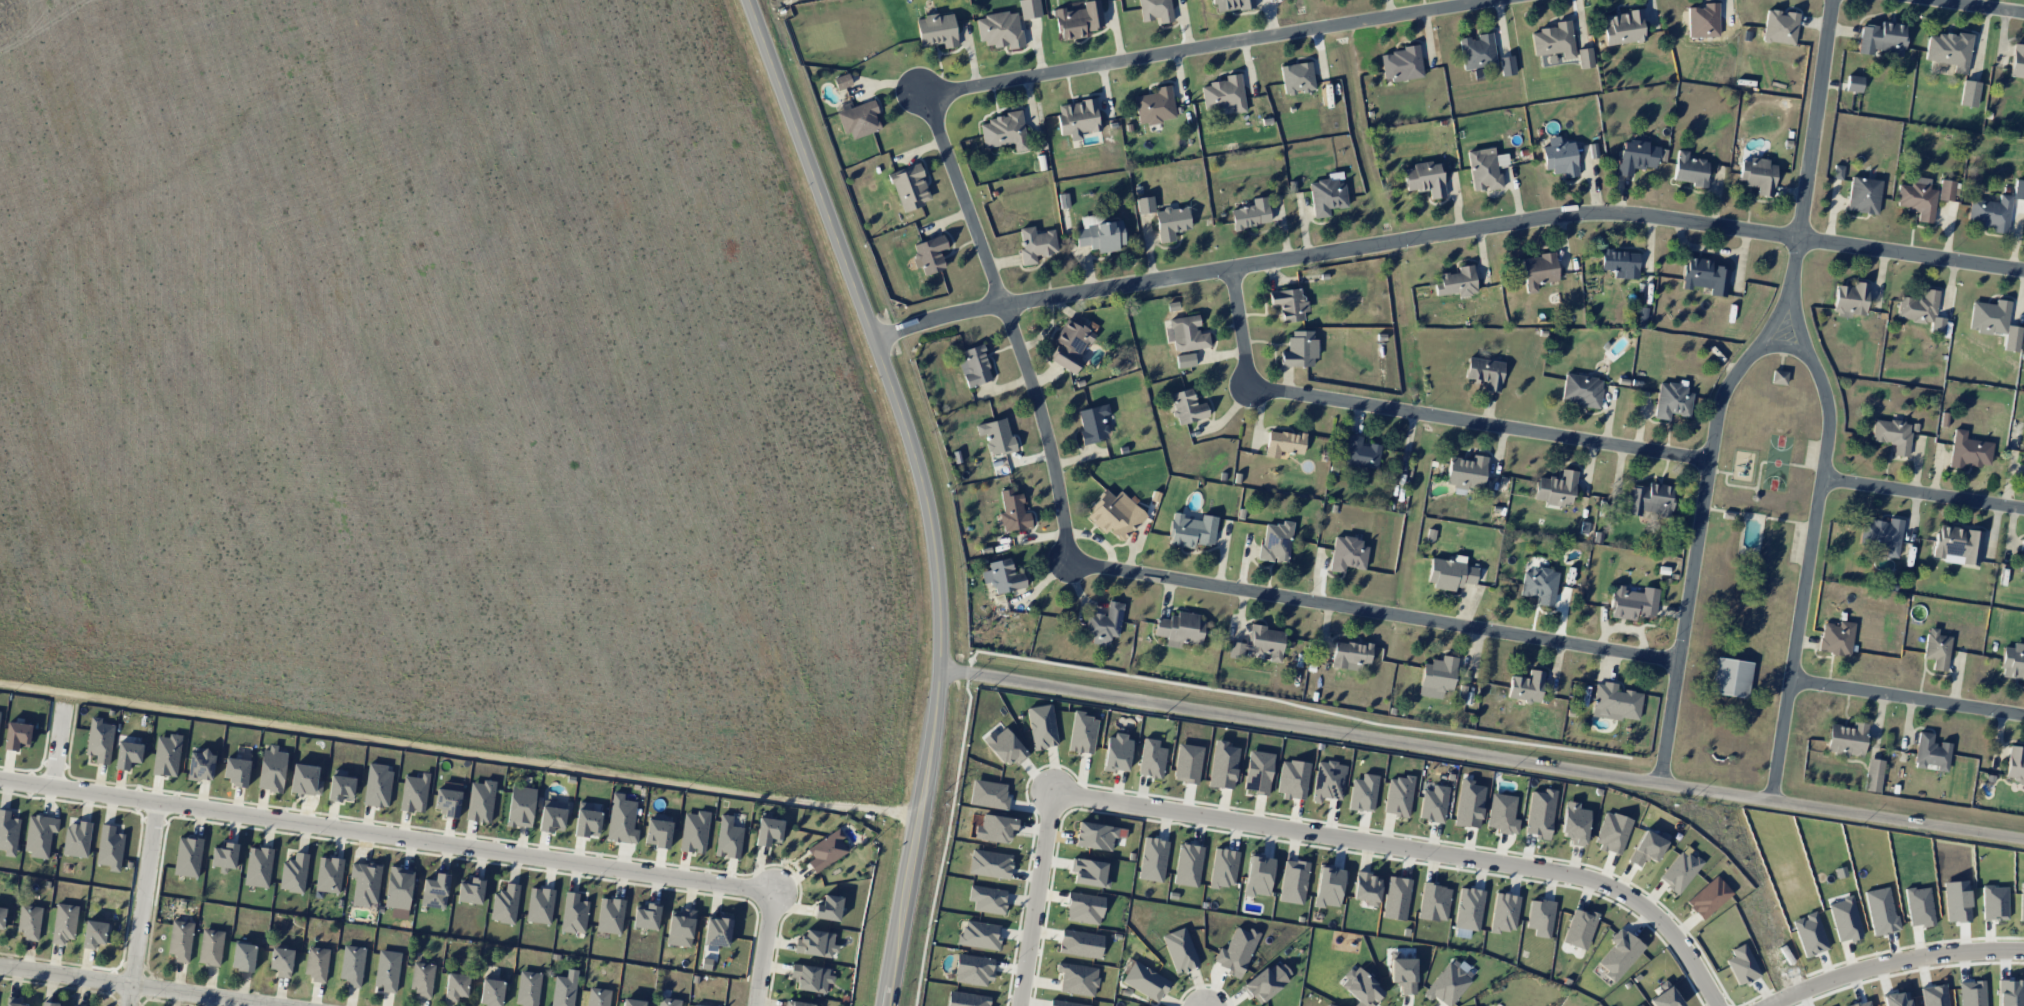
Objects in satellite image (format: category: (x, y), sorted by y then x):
building: (1231, 5)
road: (1977, 7)
building: (1029, 9)
building: (1155, 10)
building: (1078, 20)
building: (1703, 21)
building: (1623, 27)
building: (1779, 27)
building: (936, 30)
building: (999, 30)
building: (1882, 38)
building: (1554, 40)
building: (1949, 50)
building: (1477, 51)
building: (1585, 57)
building: (2017, 62)
road: (1096, 64)
building: (1400, 64)
building: (1506, 65)
building: (1297, 78)
building: (842, 81)
building: (1853, 83)
building: (1968, 93)
building: (1224, 94)
building: (1155, 106)
building: (1078, 117)
building: (859, 119)
building: (1004, 131)
building: (1636, 155)
road: (1810, 155)
building: (1559, 157)
building: (1483, 169)
building: (1690, 169)
building: (1837, 172)
building: (1757, 175)
building: (1424, 178)
building: (909, 187)
building: (2018, 189)
building: (1946, 190)
building: (1863, 195)
building: (1327, 196)
building: (1917, 200)
building: (1063, 201)
building: (1144, 205)
building: (1990, 213)
building: (1251, 214)
building: (1171, 222)
road: (1445, 233)
building: (1101, 236)
building: (1035, 244)
building: (929, 254)
building: (1620, 263)
building: (1538, 270)
building: (1704, 276)
building: (1456, 282)
building: (1850, 299)
building: (1288, 303)
building: (1921, 310)
building: (1994, 322)
building: (1186, 333)
building: (1070, 345)
building: (1299, 349)
building: (1185, 360)
building: (974, 366)
building: (1485, 373)
building: (1779, 377)
building: (1581, 390)
building: (1672, 401)
building: (1187, 407)
road: (1418, 414)
building: (1093, 423)
building: (1892, 435)
building: (996, 436)
building: (1283, 443)
building: (1968, 451)
building: (1360, 453)
building: (1466, 472)
building: (1555, 488)
road: (919, 490)
road: (1925, 495)
building: (1649, 500)
building: (1013, 511)
building: (1115, 514)
building: (1191, 530)
building: (1882, 534)
road: (1699, 535)
building: (1275, 542)
building: (1957, 545)
road: (1813, 553)
building: (1347, 554)
building: (2021, 558)
building: (1450, 574)
building: (1003, 576)
building: (1539, 585)
road: (1240, 591)
building: (1633, 603)
building: (1104, 623)
building: (1180, 629)
building: (1836, 638)
building: (1260, 643)
building: (1936, 649)
building: (1350, 654)
building: (2013, 662)
building: (1436, 677)
building: (1730, 677)
building: (1526, 687)
road: (1908, 696)
building: (1615, 702)
building: (1041, 726)
building: (1082, 733)
building: (17, 735)
road: (59, 738)
building: (1846, 739)
building: (99, 740)
building: (1004, 746)
road: (459, 750)
building: (1931, 752)
building: (1117, 753)
road: (1480, 753)
building: (128, 755)
building: (166, 755)
building: (1151, 758)
building: (1187, 763)
building: (2015, 764)
building: (200, 765)
building: (1222, 765)
building: (271, 769)
building: (236, 771)
building: (1258, 772)
building: (1873, 775)
building: (305, 779)
building: (1293, 779)
building: (1328, 780)
building: (377, 785)
building: (340, 786)
building: (414, 793)
building: (1363, 793)
building: (989, 794)
building: (1398, 796)
building: (480, 801)
building: (448, 802)
building: (1433, 804)
building: (1468, 804)
building: (520, 806)
building: (1502, 813)
building: (1540, 813)
building: (552, 816)
building: (586, 820)
building: (621, 820)
building: (1574, 823)
building: (996, 828)
building: (658, 831)
building: (768, 831)
building: (694, 832)
building: (1612, 832)
building: (8, 833)
road: (388, 834)
building: (39, 835)
building: (1095, 836)
building: (728, 838)
building: (76, 839)
building: (1647, 847)
building: (110, 848)
road: (1414, 849)
building: (826, 850)
building: (187, 856)
building: (224, 856)
building: (1153, 859)
building: (990, 864)
building: (1188, 865)
building: (258, 867)
building: (1223, 868)
building: (1679, 871)
building: (293, 873)
building: (1089, 873)
building: (328, 874)
building: (1258, 875)
building: (1293, 881)
building: (365, 883)
building: (1329, 886)
building: (398, 888)
building: (1367, 888)
building: (470, 890)
building: (434, 891)
building: (1708, 897)
building: (1396, 898)
building: (987, 899)
road: (1034, 899)
building: (1434, 902)
road: (141, 903)
building: (504, 904)
building: (539, 905)
building: (828, 908)
building: (1084, 908)
building: (1469, 909)
building: (1504, 912)
building: (573, 913)
building: (610, 915)
building: (646, 916)
building: (2, 917)
building: (1540, 917)
building: (29, 922)
building: (64, 923)
building: (680, 928)
building: (1579, 929)
building: (717, 930)
building: (94, 934)
building: (979, 934)
building: (180, 940)
building: (816, 943)
building: (1080, 943)
building: (211, 947)
road: (767, 947)
building: (1180, 950)
building: (1236, 952)
building: (1619, 954)
building: (243, 956)
building: (281, 961)
building: (316, 963)
road: (1895, 963)
building: (352, 965)
building: (1742, 965)
building: (387, 970)
building: (973, 970)
building: (1402, 973)
building: (811, 977)
building: (422, 979)
building: (1078, 979)
building: (1145, 981)
building: (1266, 981)
building: (1448, 984)
road: (133, 986)
building: (455, 986)
building: (1361, 987)
building: (527, 988)
building: (564, 989)
building: (491, 991)
building: (597, 997)
building: (1665, 998)
building: (966, 999)
building: (13, 1001)
building: (632, 1002)
building: (668, 1002)
building: (796, 1003)
building: (1064, 1003)
building: (50, 1004)
building: (697, 1005)
building: (1328, 1005)
building: (1638, 1005)

